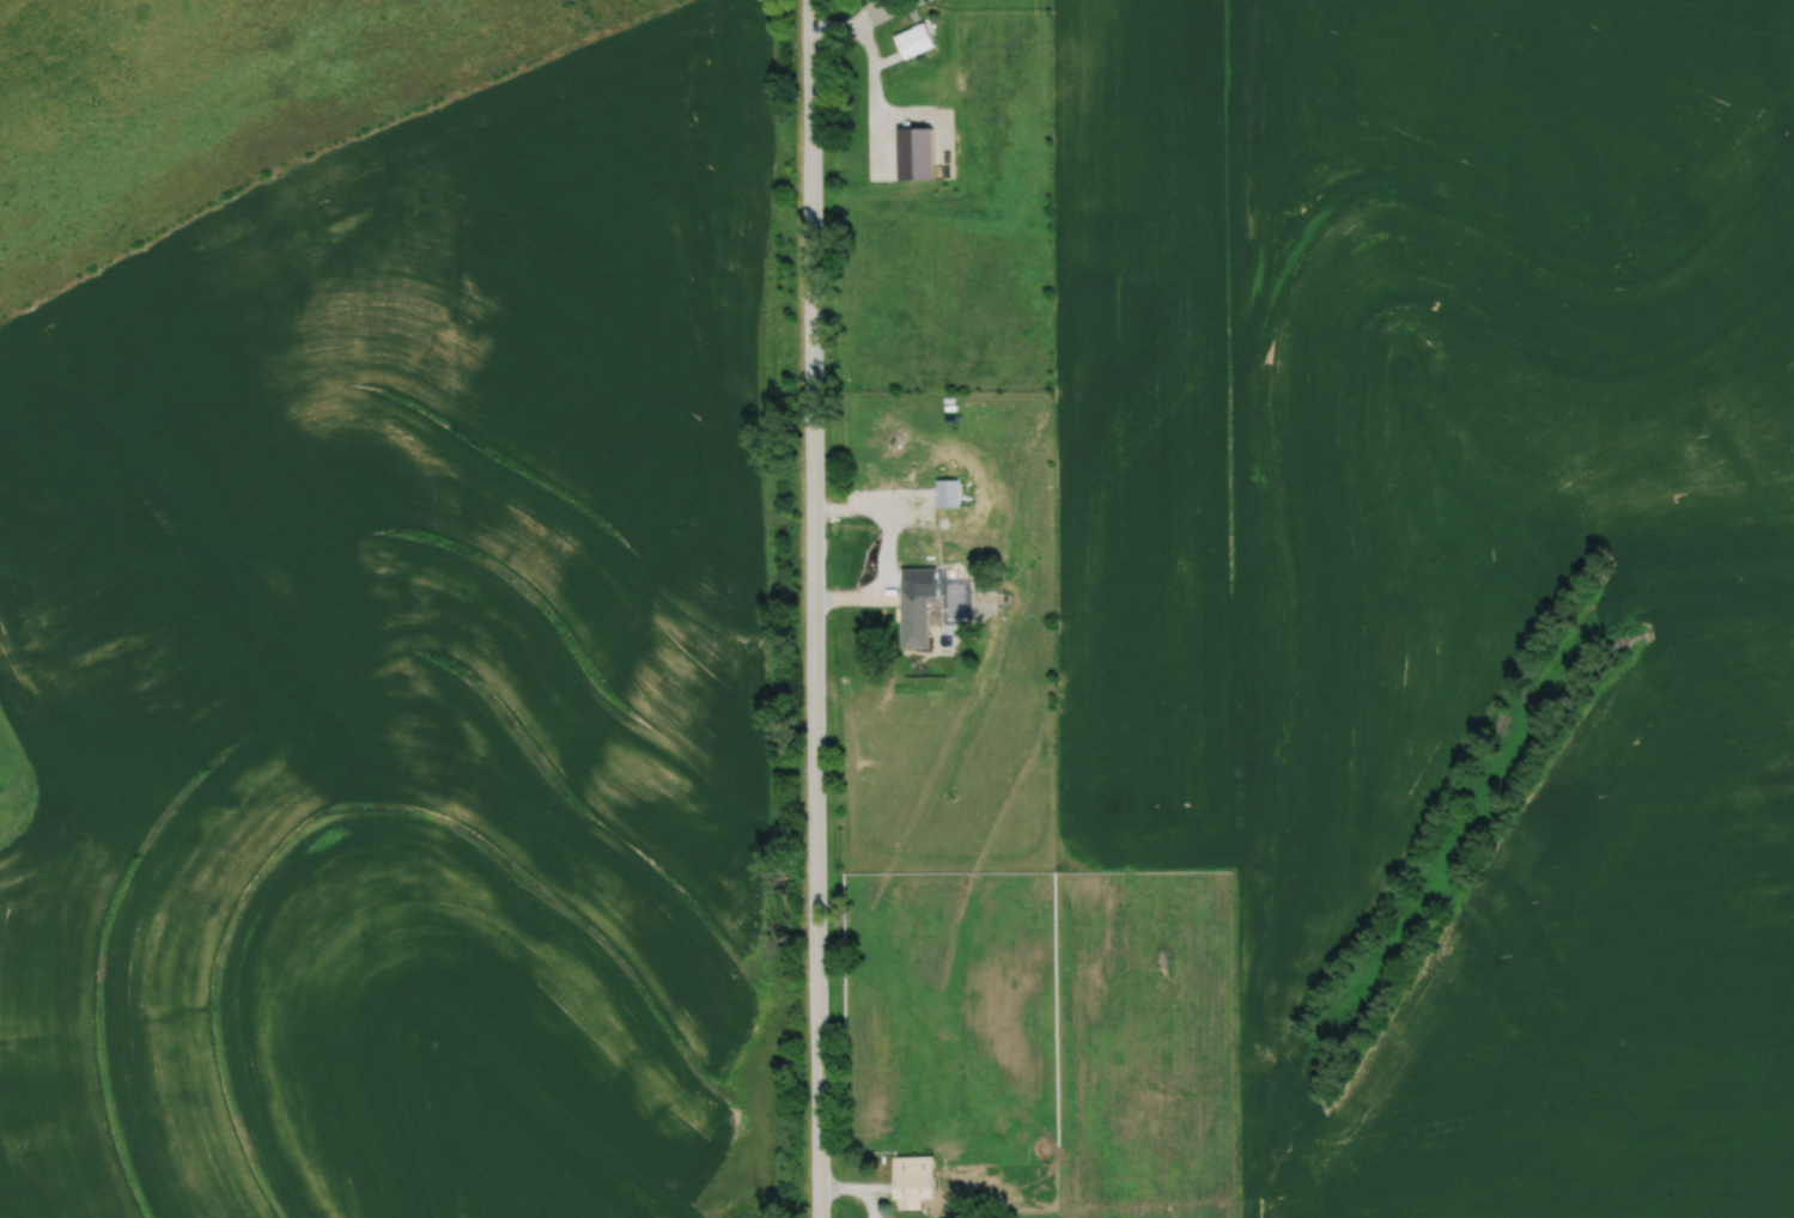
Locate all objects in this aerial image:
building: (913, 41)
building: (945, 493)
road: (813, 609)
building: (913, 616)
building: (911, 1180)

